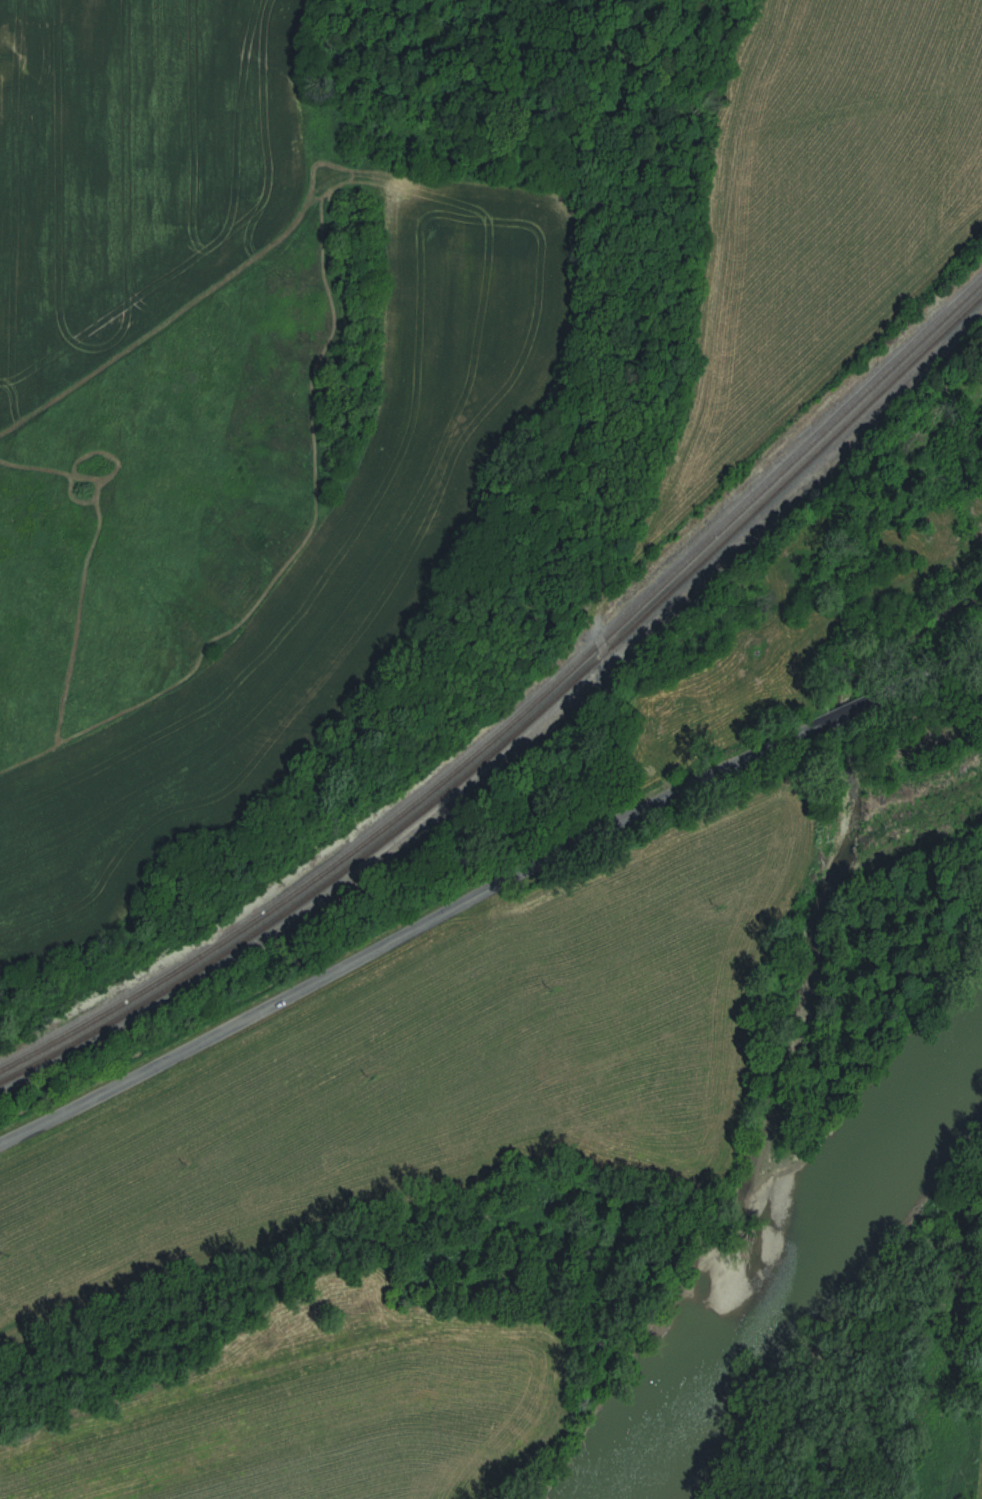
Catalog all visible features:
crop: (823, 201)
road: (942, 667)
road: (866, 703)
railway: (519, 726)
road: (412, 929)
crop: (439, 1074)
river: (798, 1272)
crop: (324, 1419)
crop: (975, 1487)

